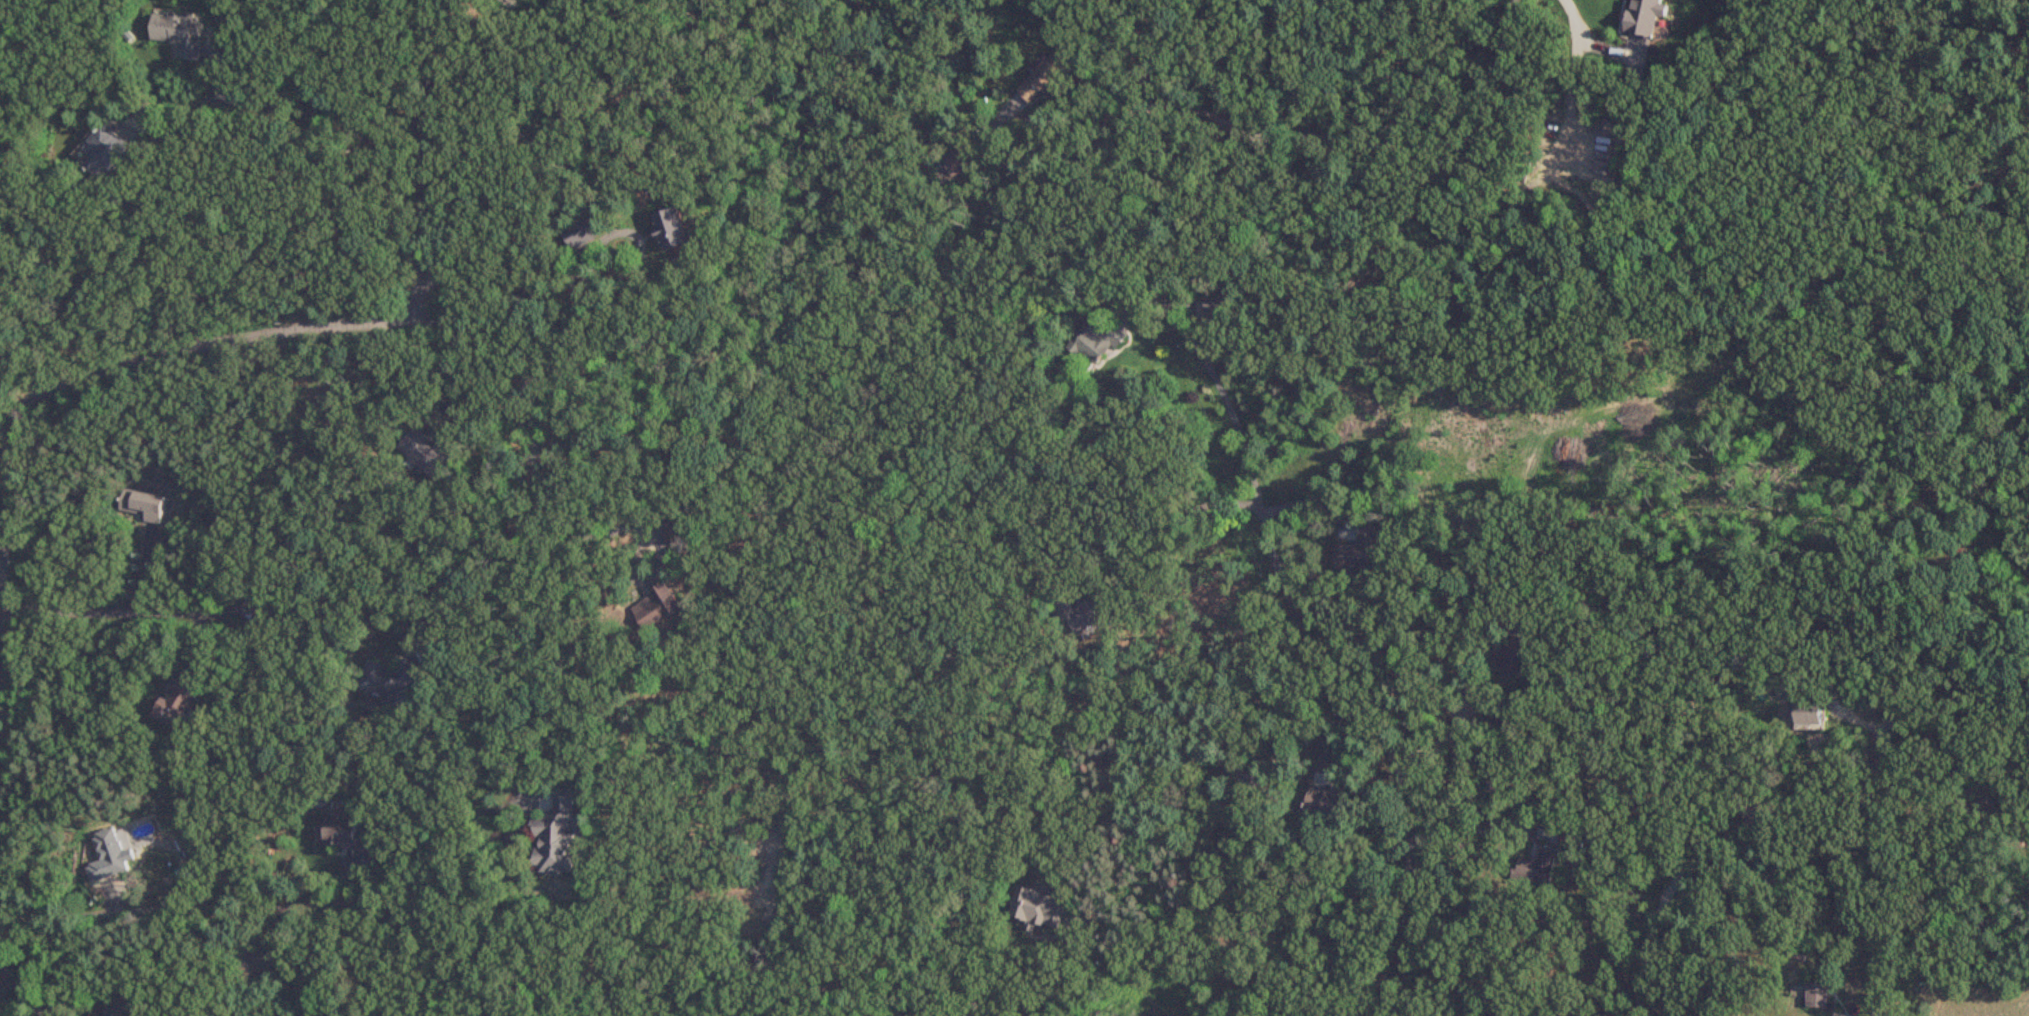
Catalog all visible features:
road: (1578, 14)
building: (180, 33)
building: (1046, 77)
road: (300, 111)
road: (1354, 141)
building: (102, 152)
building: (670, 229)
building: (583, 239)
road: (537, 291)
building: (1098, 343)
road: (110, 368)
road: (448, 374)
road: (533, 419)
building: (424, 455)
road: (1308, 500)
building: (141, 506)
road: (1154, 522)
road: (1264, 538)
building: (1358, 551)
building: (654, 610)
road: (197, 612)
building: (1077, 616)
building: (1511, 660)
building: (387, 683)
building: (174, 703)
building: (1498, 712)
building: (1807, 715)
road: (1445, 733)
building: (1247, 787)
building: (1327, 805)
building: (341, 836)
building: (553, 838)
road: (1509, 845)
road: (1711, 845)
building: (106, 858)
building: (1533, 871)
building: (1036, 909)
road: (274, 910)
building: (255, 961)
road: (1064, 978)
building: (1818, 997)
building: (120, 1007)

